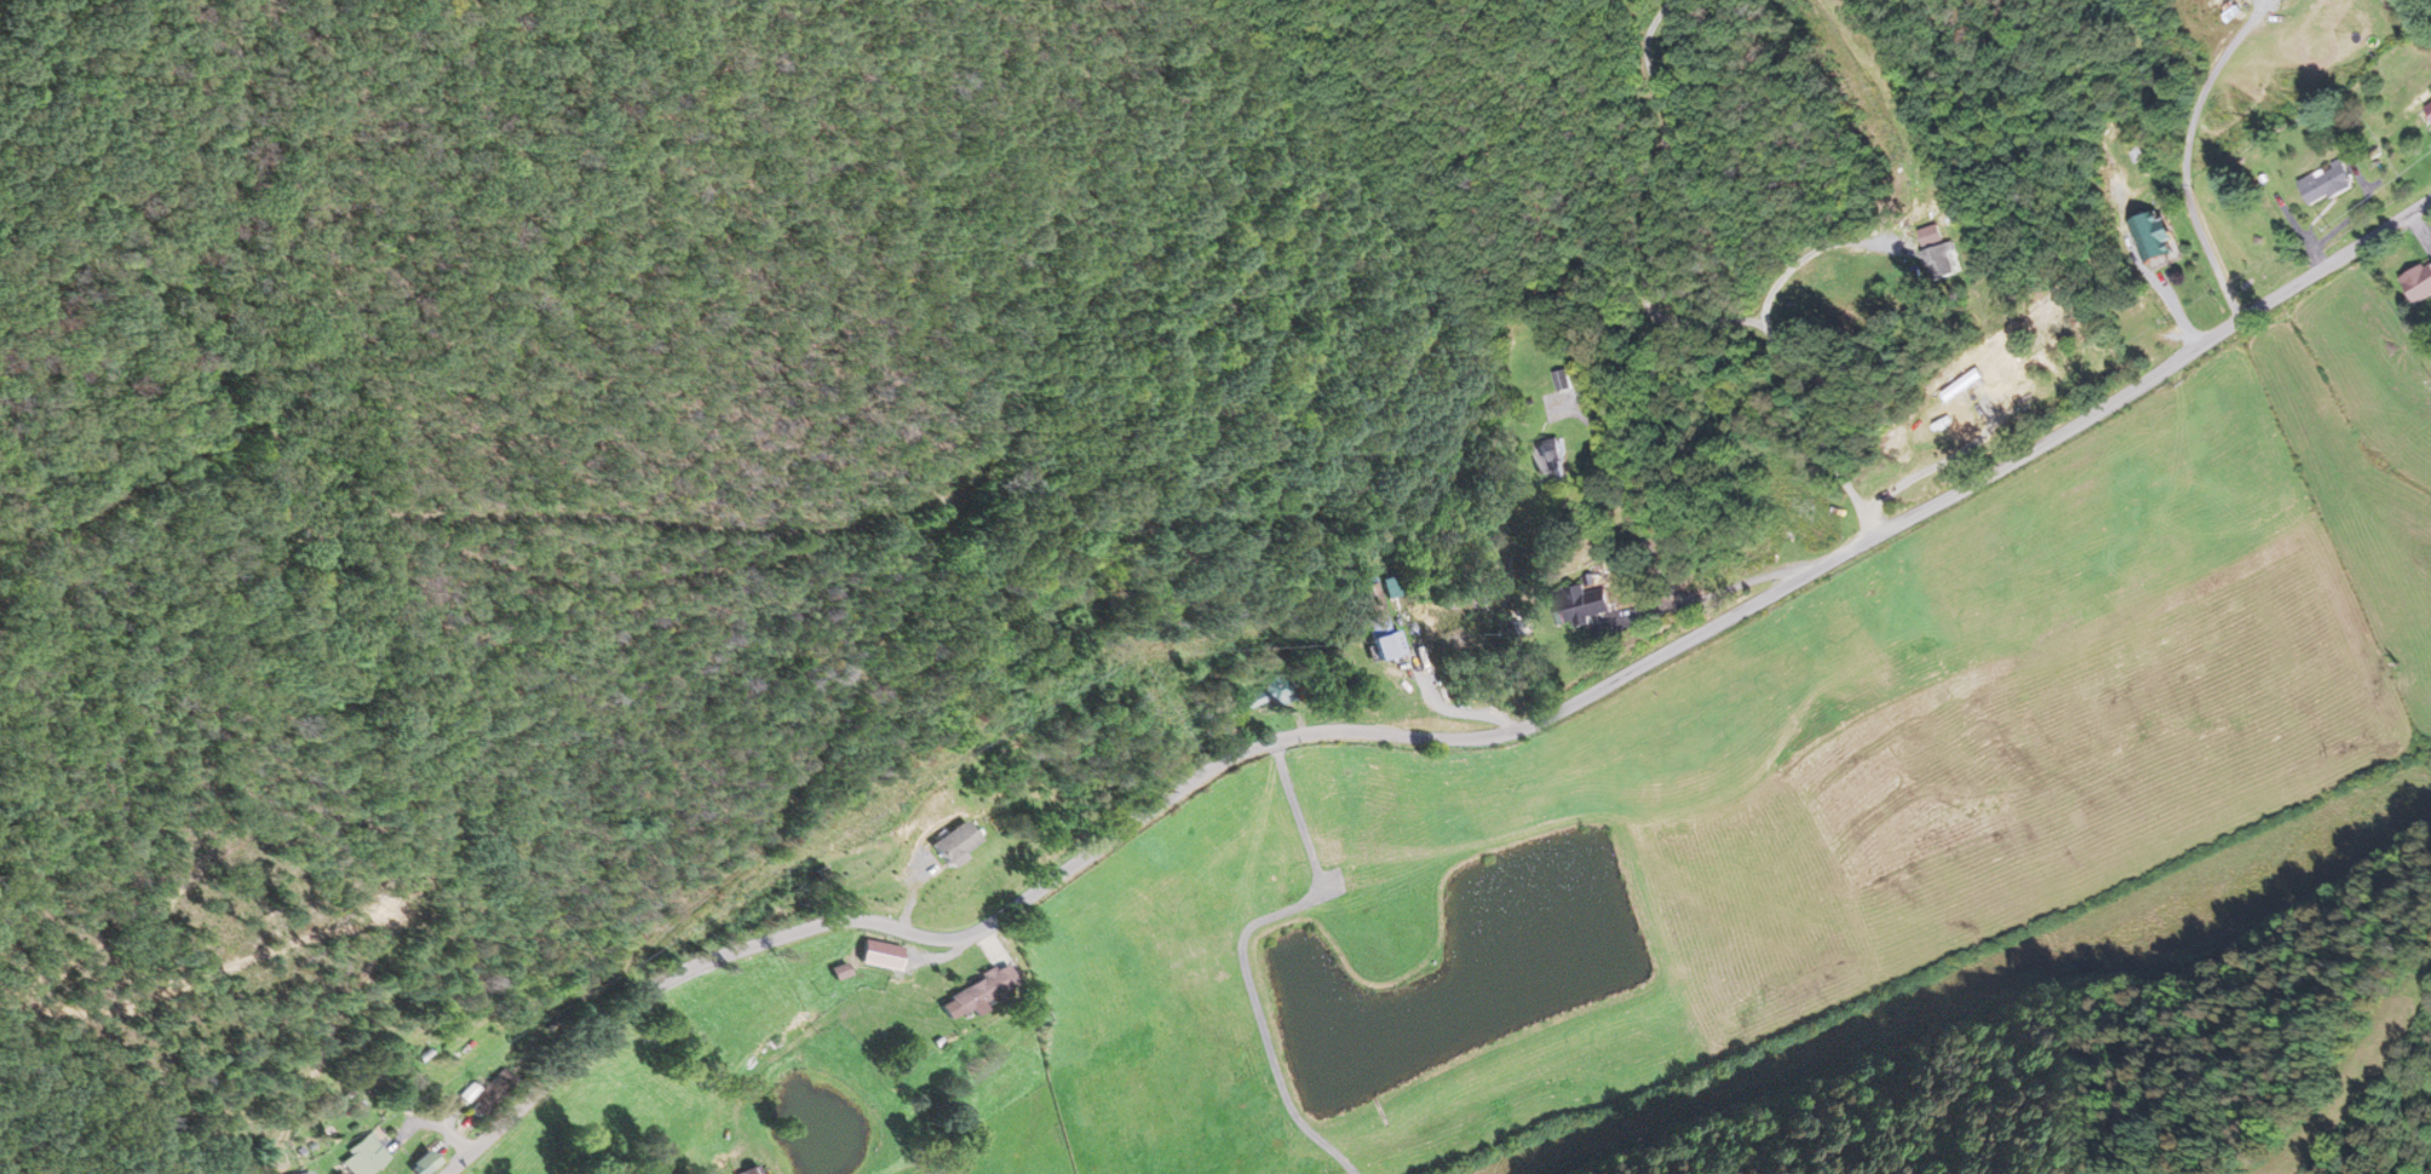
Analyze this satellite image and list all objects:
building: (2427, 110)
building: (2323, 183)
building: (2154, 235)
building: (1939, 261)
building: (2419, 283)
building: (1562, 380)
building: (1953, 401)
building: (1550, 460)
building: (1369, 593)
building: (1580, 603)
building: (1379, 637)
building: (1268, 692)
road: (1442, 741)
building: (835, 971)
building: (977, 988)
building: (484, 1093)
building: (356, 1156)

